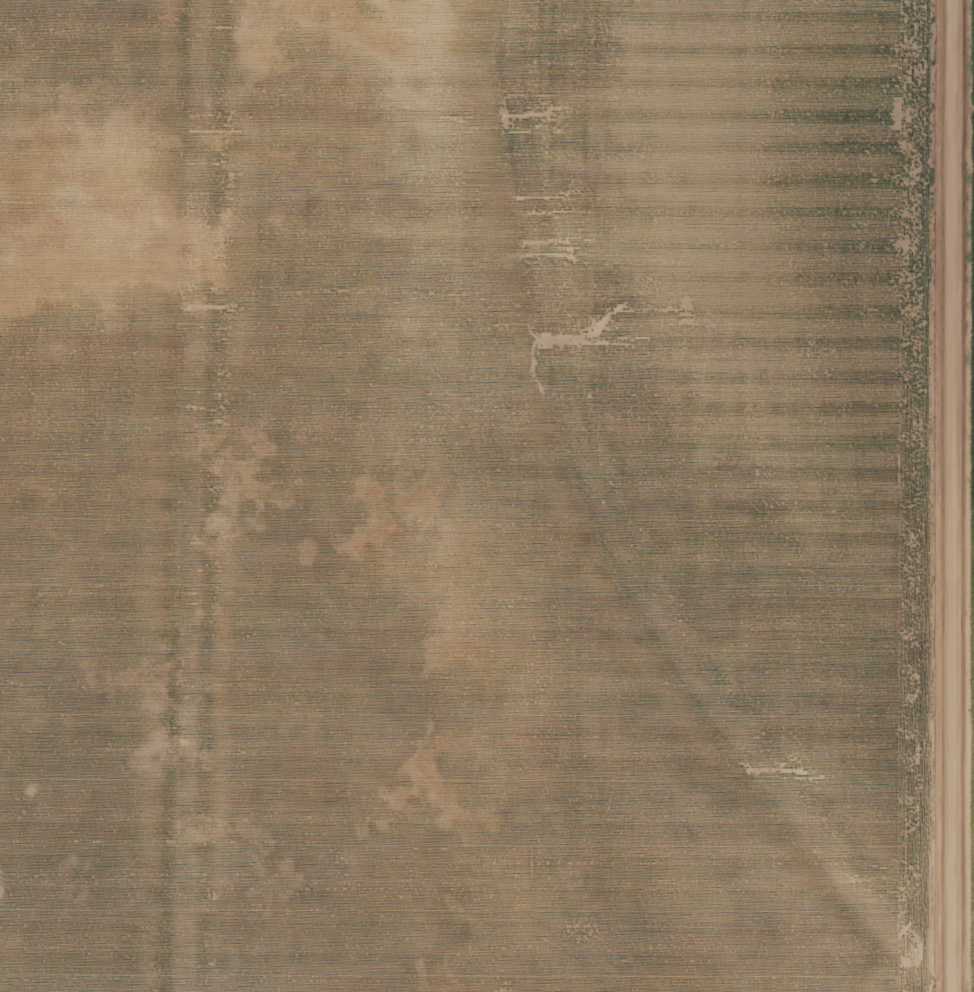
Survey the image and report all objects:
road: (955, 496)

